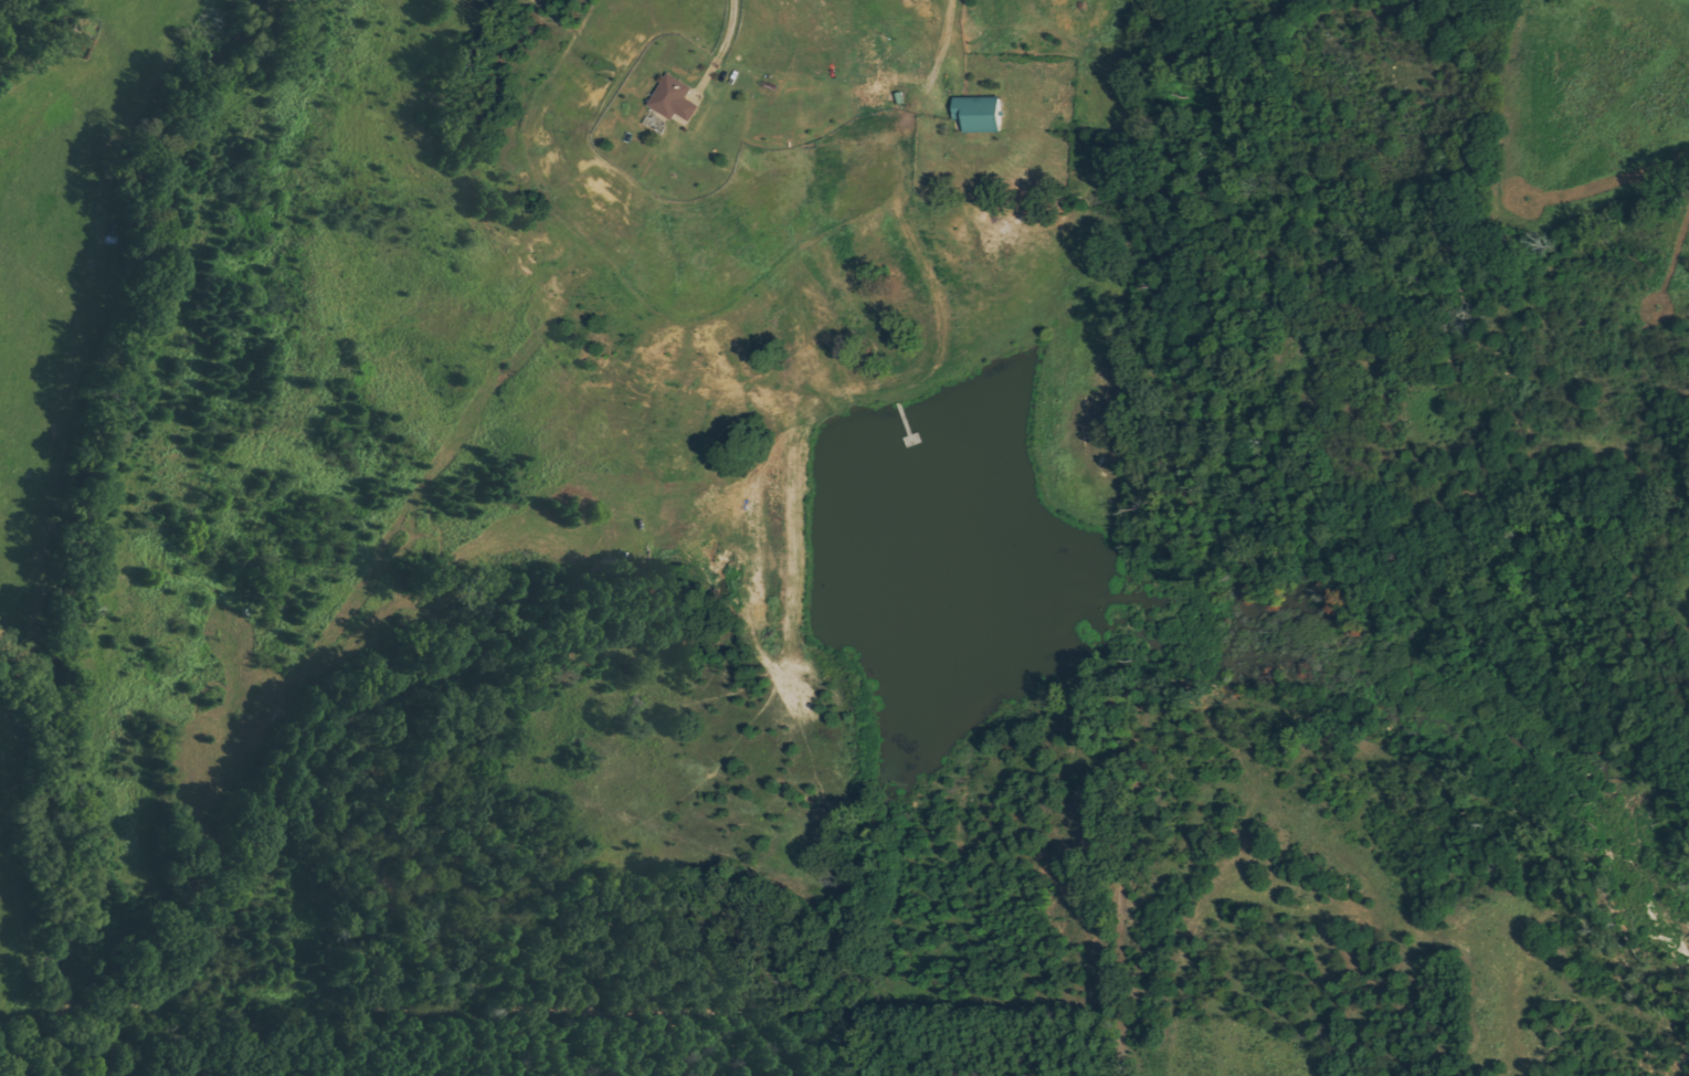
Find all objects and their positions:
building: (677, 99)
building: (985, 114)

